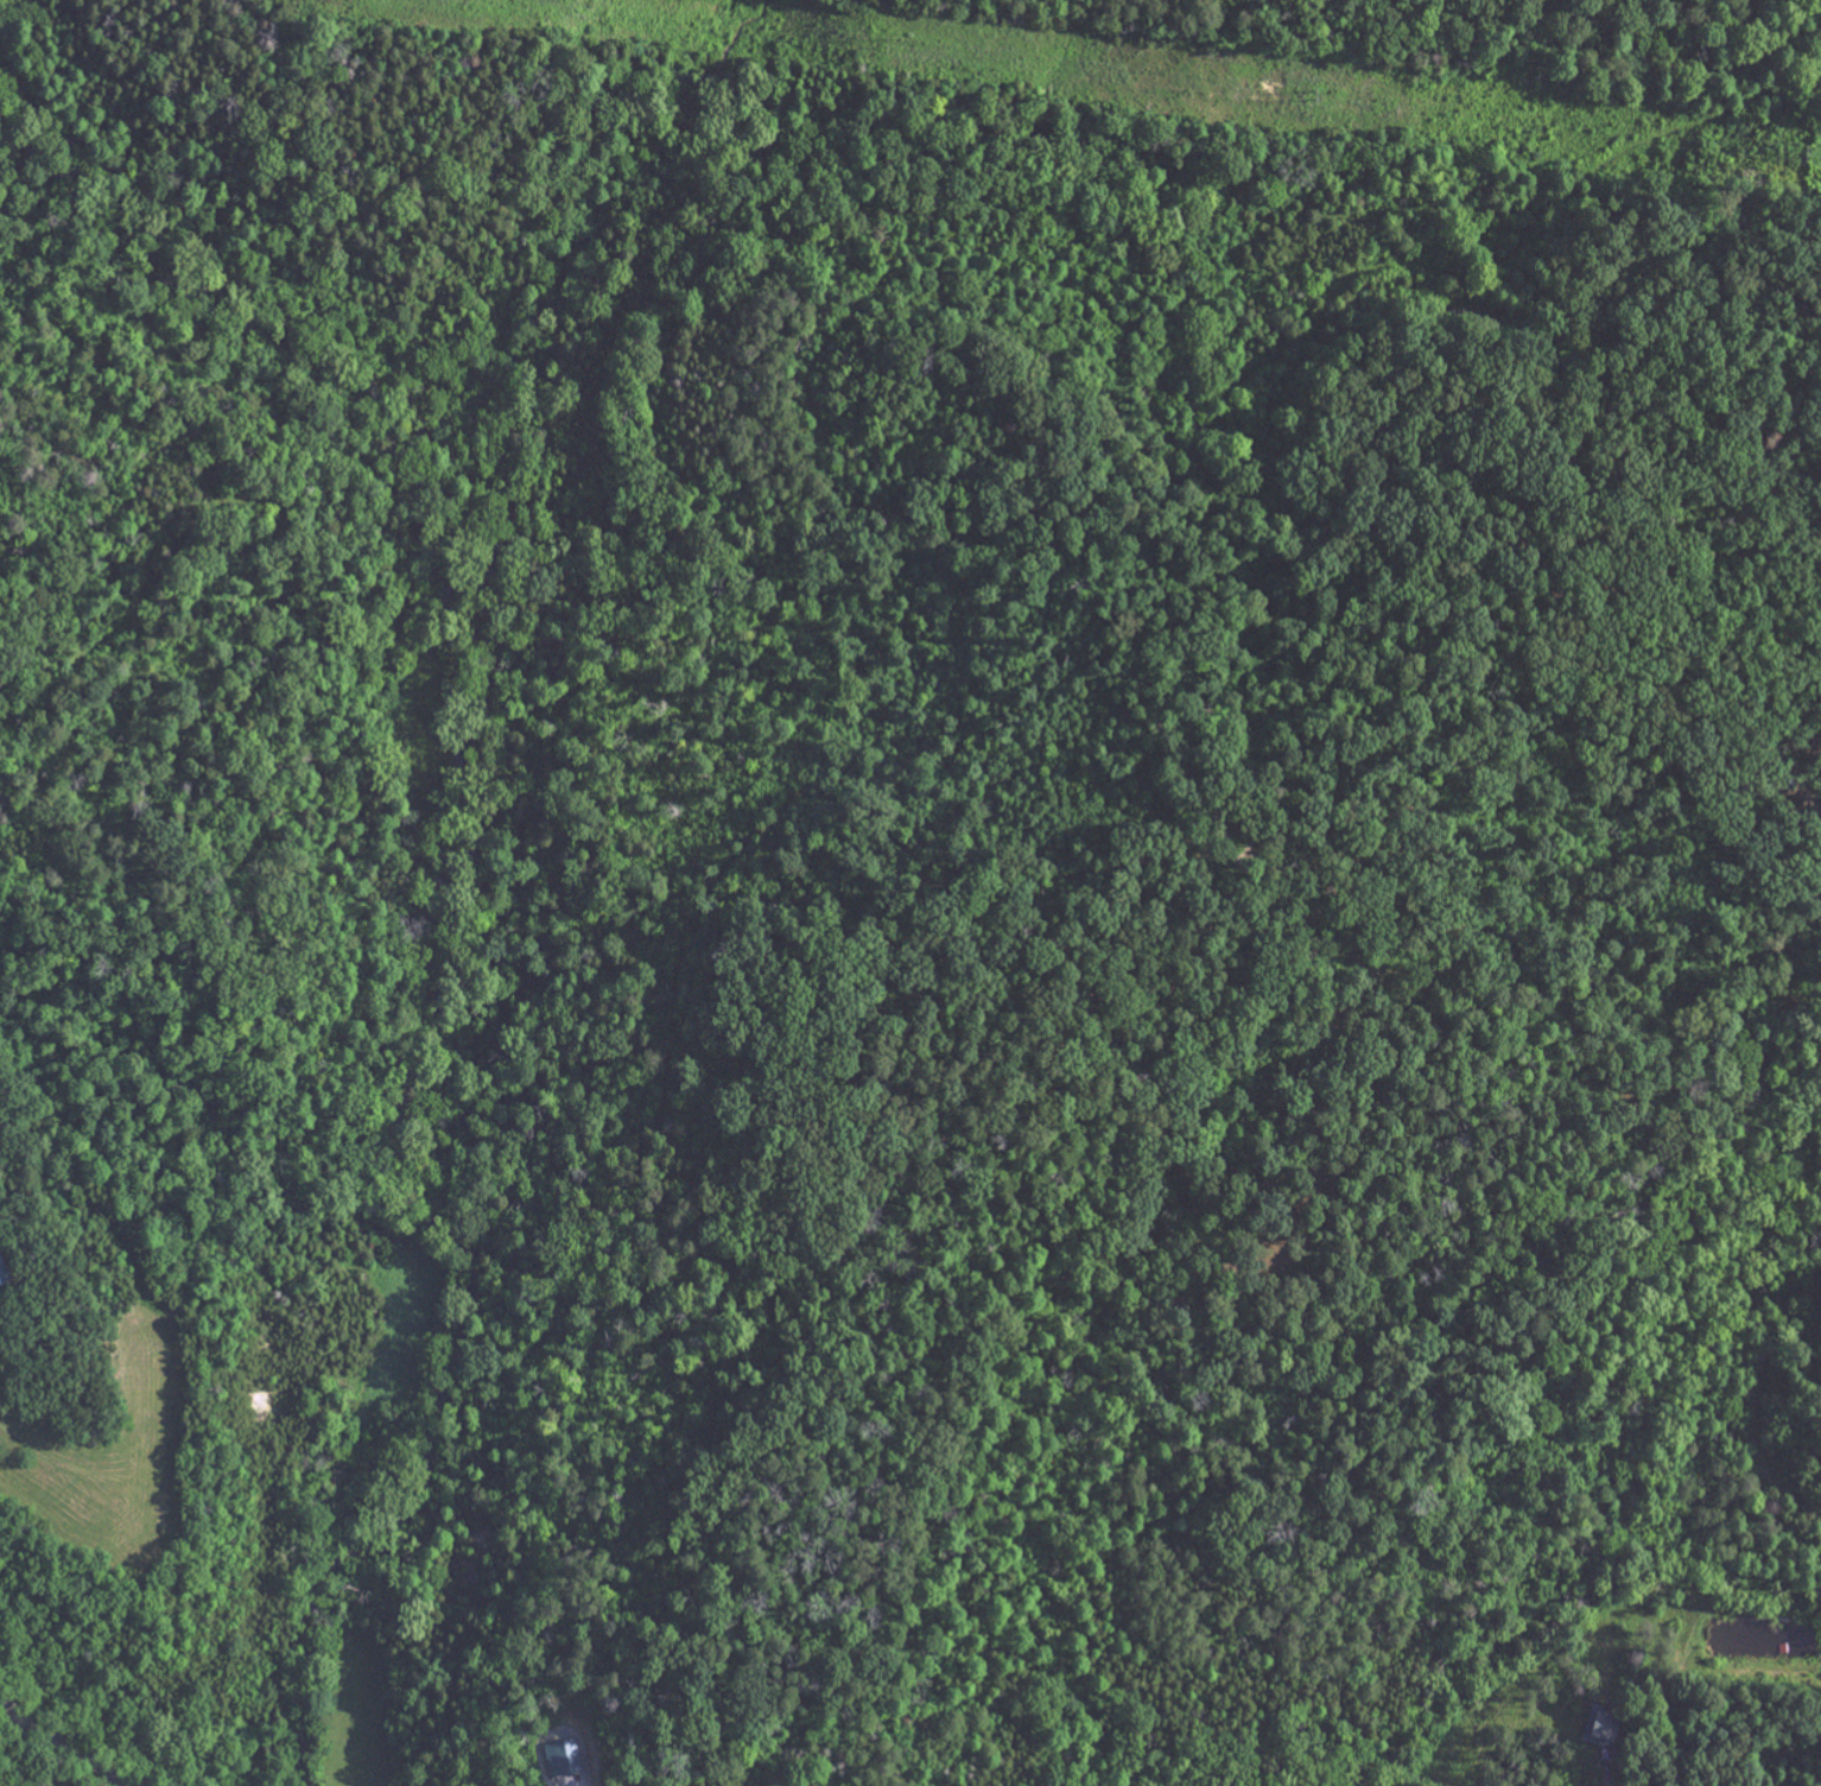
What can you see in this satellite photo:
power tower: (890, 43)
power tower: (1318, 93)
power tower: (1794, 153)
building: (2, 1277)
building: (1601, 1730)
road: (64, 1743)
building: (563, 1761)

